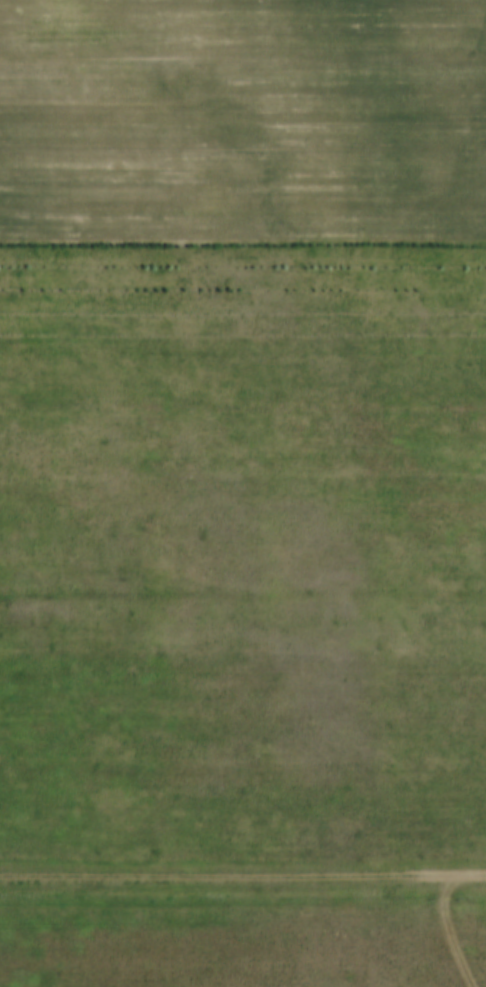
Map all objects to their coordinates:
road: (243, 877)

